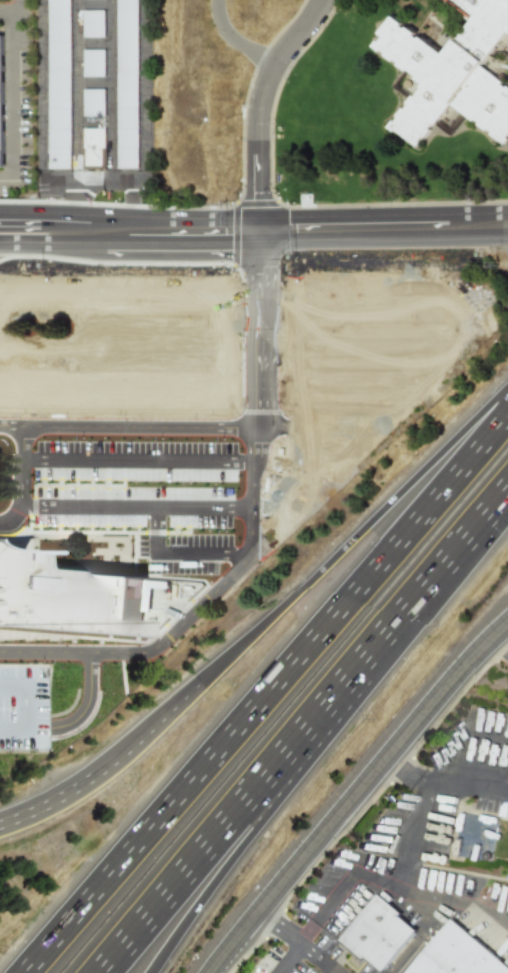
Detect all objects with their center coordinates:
road: (94, 1)
road: (17, 4)
building: (96, 22)
road: (236, 38)
road: (94, 42)
building: (95, 62)
building: (454, 76)
road: (94, 81)
building: (60, 83)
building: (127, 83)
road: (77, 89)
road: (111, 90)
road: (17, 95)
building: (1, 97)
building: (9, 100)
building: (96, 101)
road: (41, 105)
road: (261, 105)
road: (142, 125)
building: (95, 147)
road: (72, 204)
road: (38, 212)
road: (290, 228)
traffic signals: (259, 229)
road: (37, 242)
road: (6, 245)
traffic signals: (258, 268)
road: (108, 297)
road: (384, 297)
road: (258, 304)
building: (476, 309)
road: (384, 340)
road: (217, 344)
road: (108, 346)
road: (301, 362)
building: (155, 373)
road: (359, 385)
road: (108, 390)
road: (378, 422)
road: (10, 426)
road: (137, 427)
road: (312, 428)
building: (174, 441)
building: (31, 447)
road: (136, 461)
building: (244, 464)
parking lot: (128, 474)
road: (21, 483)
road: (134, 507)
building: (154, 508)
building: (228, 528)
road: (152, 530)
road: (353, 536)
road: (196, 553)
road: (208, 596)
building: (66, 599)
road: (502, 643)
road: (24, 665)
road: (267, 692)
road: (86, 702)
building: (23, 708)
parking garage: (23, 708)
road: (24, 708)
road: (146, 733)
road: (302, 733)
road: (450, 772)
road: (504, 777)
road: (357, 797)
road: (49, 806)
road: (221, 855)
road: (399, 860)
road: (358, 881)
building: (380, 931)
road: (418, 939)
road: (297, 942)
building: (460, 953)
road: (289, 959)
road: (328, 971)

